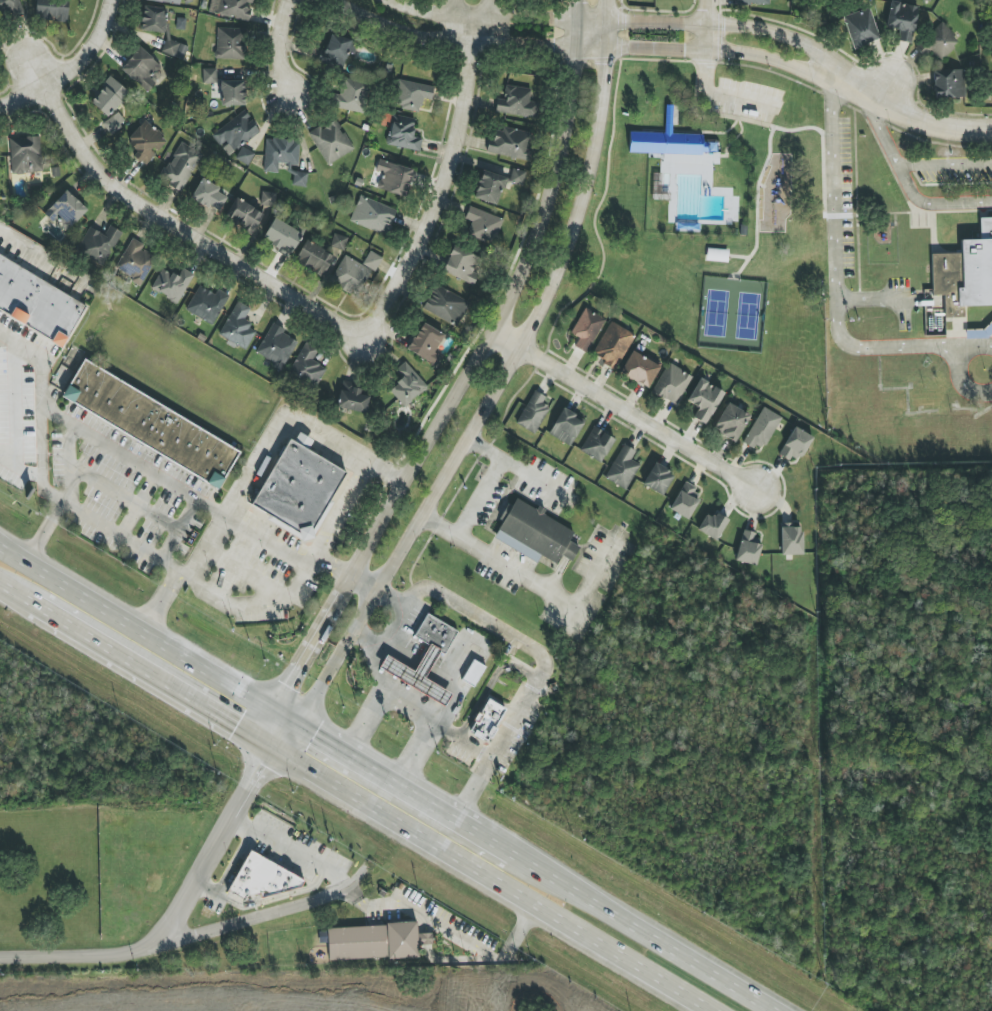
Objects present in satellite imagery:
building: (168, 1)
building: (752, 1)
building: (9, 8)
building: (232, 8)
building: (51, 10)
road: (483, 17)
road: (462, 18)
building: (153, 19)
building: (902, 20)
road: (705, 21)
building: (861, 28)
road: (677, 42)
building: (941, 42)
building: (229, 43)
building: (174, 49)
building: (337, 50)
road: (90, 51)
road: (288, 52)
building: (141, 69)
building: (209, 76)
road: (891, 81)
building: (948, 84)
building: (233, 93)
building: (411, 95)
building: (351, 96)
building: (109, 97)
building: (991, 97)
road: (24, 101)
building: (517, 102)
building: (113, 123)
building: (236, 131)
building: (403, 133)
building: (331, 141)
road: (759, 141)
building: (146, 142)
building: (510, 143)
building: (671, 145)
building: (280, 153)
building: (25, 155)
building: (244, 156)
road: (946, 164)
building: (180, 166)
building: (393, 177)
building: (517, 177)
building: (300, 179)
road: (907, 181)
road: (448, 187)
building: (489, 187)
building: (210, 195)
building: (268, 199)
building: (65, 210)
building: (373, 215)
building: (243, 216)
road: (174, 223)
park: (711, 224)
building: (483, 225)
building: (281, 236)
building: (339, 242)
building: (98, 244)
road: (22, 248)
building: (717, 255)
building: (314, 258)
building: (372, 261)
building: (135, 262)
building: (462, 265)
road: (836, 272)
building: (964, 272)
building: (350, 276)
building: (171, 284)
road: (878, 299)
building: (37, 303)
building: (207, 304)
building: (445, 305)
building: (238, 327)
building: (586, 329)
building: (426, 344)
building: (613, 345)
building: (277, 346)
road: (36, 360)
building: (307, 365)
building: (639, 369)
road: (960, 370)
road: (470, 373)
road: (499, 382)
building: (671, 384)
building: (407, 386)
road: (17, 397)
building: (352, 399)
building: (704, 400)
road: (627, 412)
building: (533, 413)
road: (14, 417)
road: (51, 417)
road: (293, 420)
building: (731, 422)
building: (150, 424)
building: (566, 426)
building: (762, 429)
building: (597, 444)
building: (795, 445)
road: (38, 460)
road: (134, 465)
building: (623, 467)
road: (527, 476)
building: (658, 479)
building: (298, 488)
road: (351, 490)
road: (474, 494)
road: (125, 497)
building: (686, 501)
building: (712, 525)
road: (110, 532)
building: (534, 533)
road: (323, 539)
building: (791, 539)
road: (272, 542)
road: (195, 543)
building: (749, 548)
road: (362, 588)
road: (545, 591)
road: (15, 593)
road: (247, 604)
road: (141, 635)
road: (366, 640)
road: (378, 649)
road: (535, 654)
building: (424, 659)
building: (473, 672)
road: (150, 674)
road: (408, 704)
building: (487, 720)
traffic signals: (284, 721)
road: (277, 733)
traffic signals: (270, 746)
road: (379, 776)
road: (492, 844)
road: (291, 848)
building: (265, 878)
road: (491, 878)
road: (261, 914)
road: (176, 915)
road: (450, 931)
road: (639, 933)
building: (375, 941)

